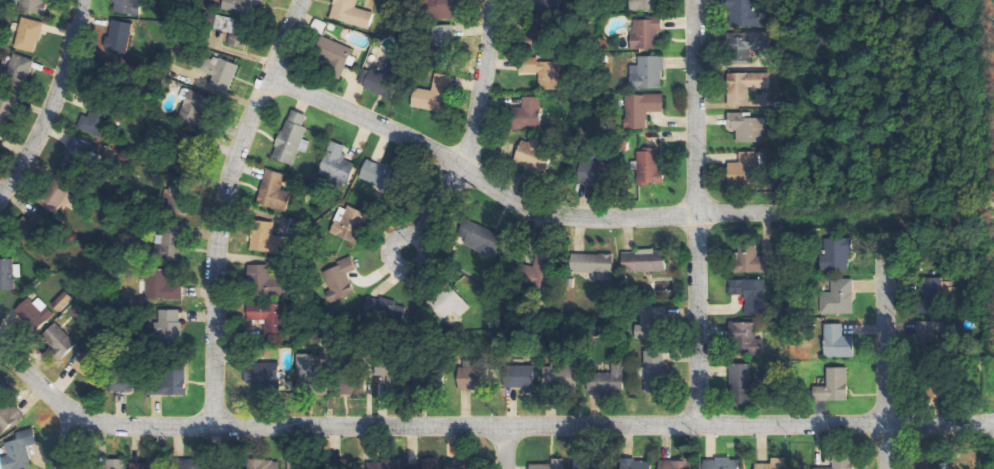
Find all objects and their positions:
building: (546, 5)
building: (646, 5)
building: (34, 6)
building: (245, 6)
building: (128, 7)
building: (441, 9)
building: (741, 13)
building: (351, 14)
building: (235, 31)
building: (647, 34)
building: (30, 35)
building: (120, 36)
building: (442, 40)
building: (747, 46)
building: (332, 56)
building: (20, 70)
building: (543, 72)
building: (647, 73)
building: (222, 74)
building: (378, 81)
building: (744, 86)
building: (432, 95)
building: (7, 105)
road: (53, 105)
building: (194, 109)
building: (641, 109)
building: (528, 114)
building: (89, 126)
building: (747, 127)
road: (473, 132)
building: (293, 138)
building: (74, 153)
building: (532, 159)
building: (336, 163)
building: (649, 167)
building: (745, 169)
building: (594, 172)
road: (475, 179)
building: (274, 191)
building: (57, 196)
building: (178, 197)
road: (223, 206)
road: (741, 210)
road: (697, 211)
building: (350, 224)
building: (479, 237)
building: (266, 238)
building: (171, 243)
building: (837, 255)
building: (751, 260)
building: (645, 261)
building: (594, 265)
building: (537, 272)
building: (9, 274)
building: (340, 279)
building: (266, 283)
building: (163, 285)
building: (752, 294)
building: (838, 298)
building: (64, 301)
building: (450, 302)
building: (35, 313)
building: (268, 316)
building: (651, 323)
building: (171, 326)
building: (931, 333)
building: (749, 339)
building: (60, 340)
building: (838, 342)
road: (883, 356)
building: (89, 367)
building: (656, 371)
building: (308, 374)
building: (387, 374)
building: (268, 375)
building: (470, 375)
building: (741, 376)
building: (350, 377)
building: (519, 377)
building: (607, 379)
building: (124, 381)
building: (170, 382)
building: (833, 386)
building: (5, 418)
road: (482, 425)
road: (69, 442)
road: (503, 447)
building: (17, 455)
building: (842, 462)
building: (188, 463)
building: (427, 463)
building: (114, 464)
building: (264, 464)
building: (301, 464)
building: (458, 464)
building: (638, 464)
building: (676, 464)
building: (775, 464)
building: (141, 465)
building: (551, 465)

